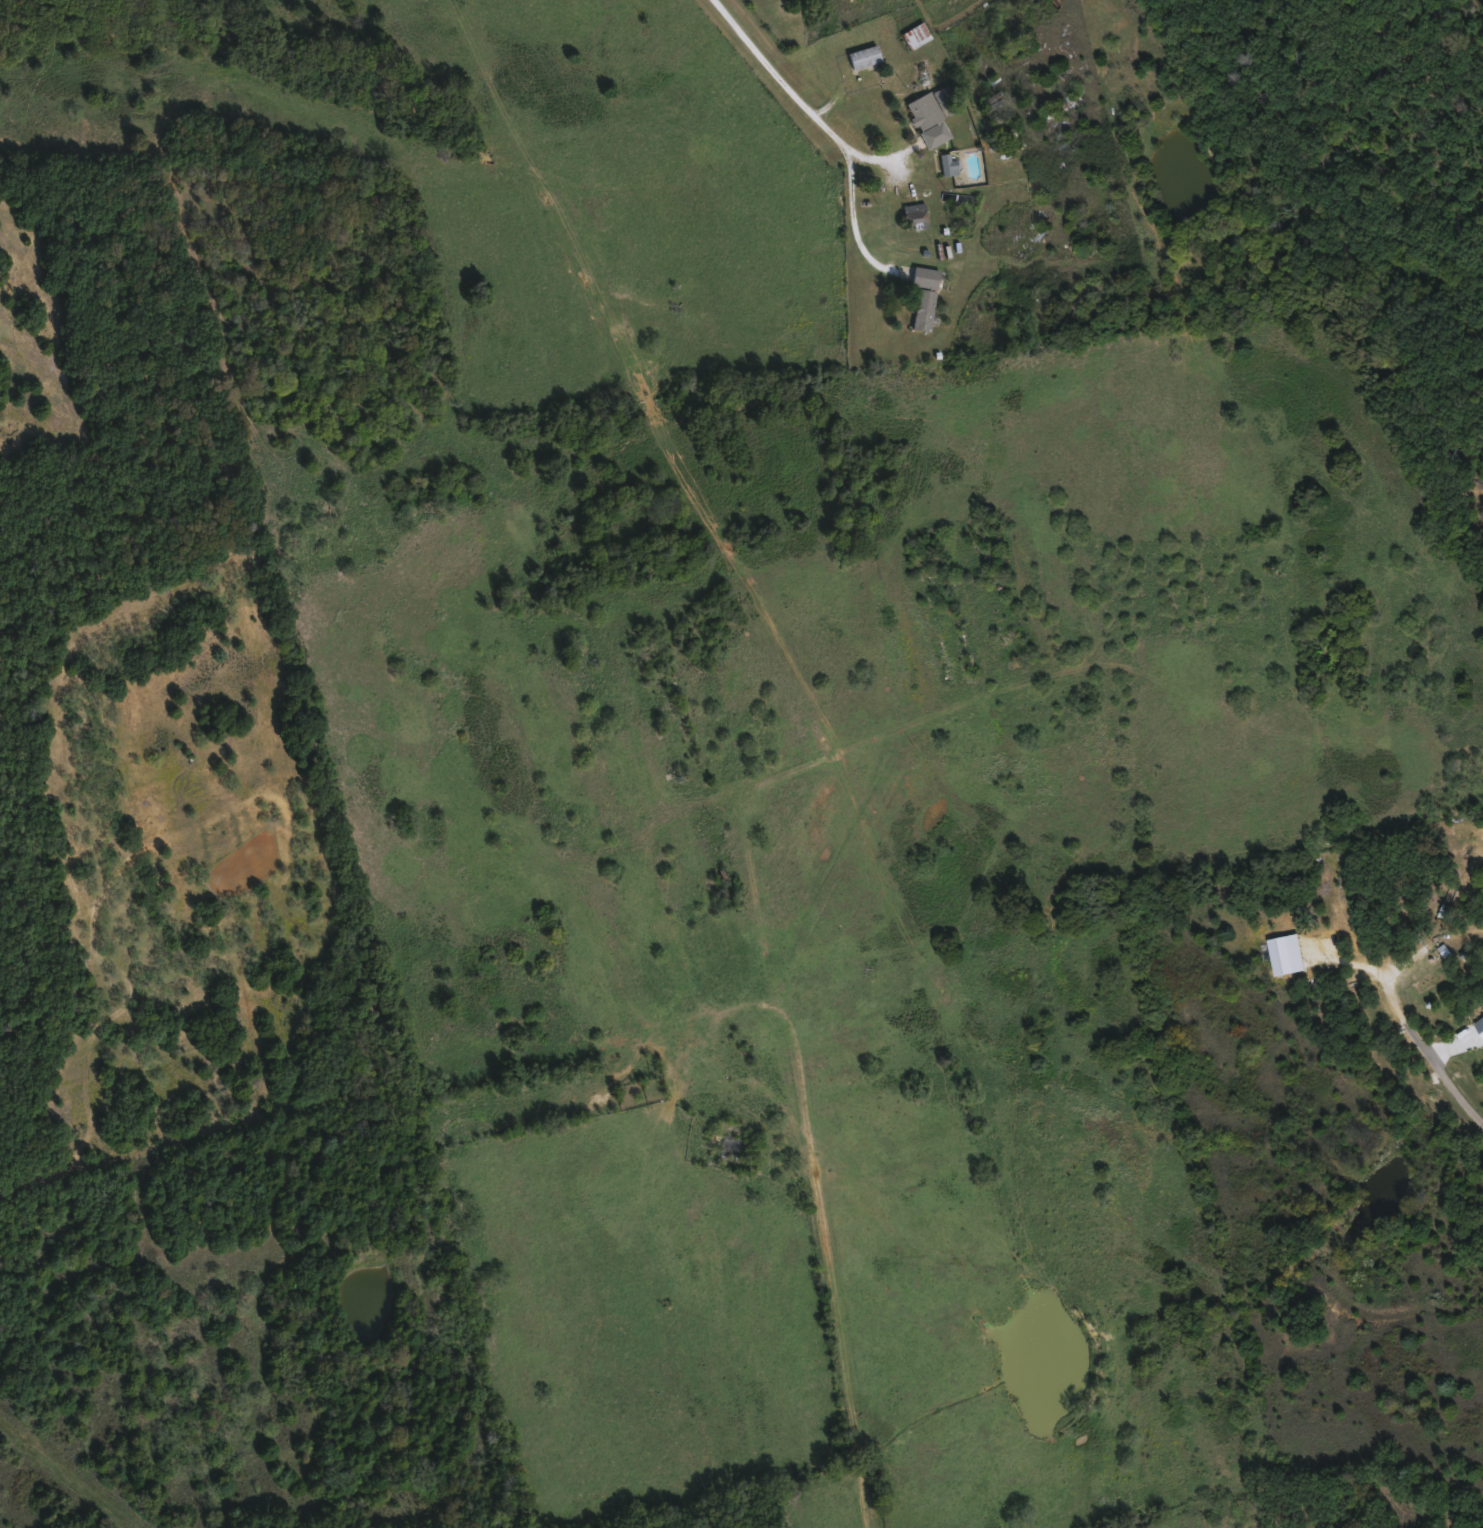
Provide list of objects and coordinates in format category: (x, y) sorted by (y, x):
building: (923, 31)
building: (866, 56)
building: (931, 119)
road: (828, 126)
building: (950, 163)
building: (917, 213)
road: (1242, 222)
building: (927, 296)
building: (1369, 1015)
building: (1481, 1022)
road: (1416, 1034)

